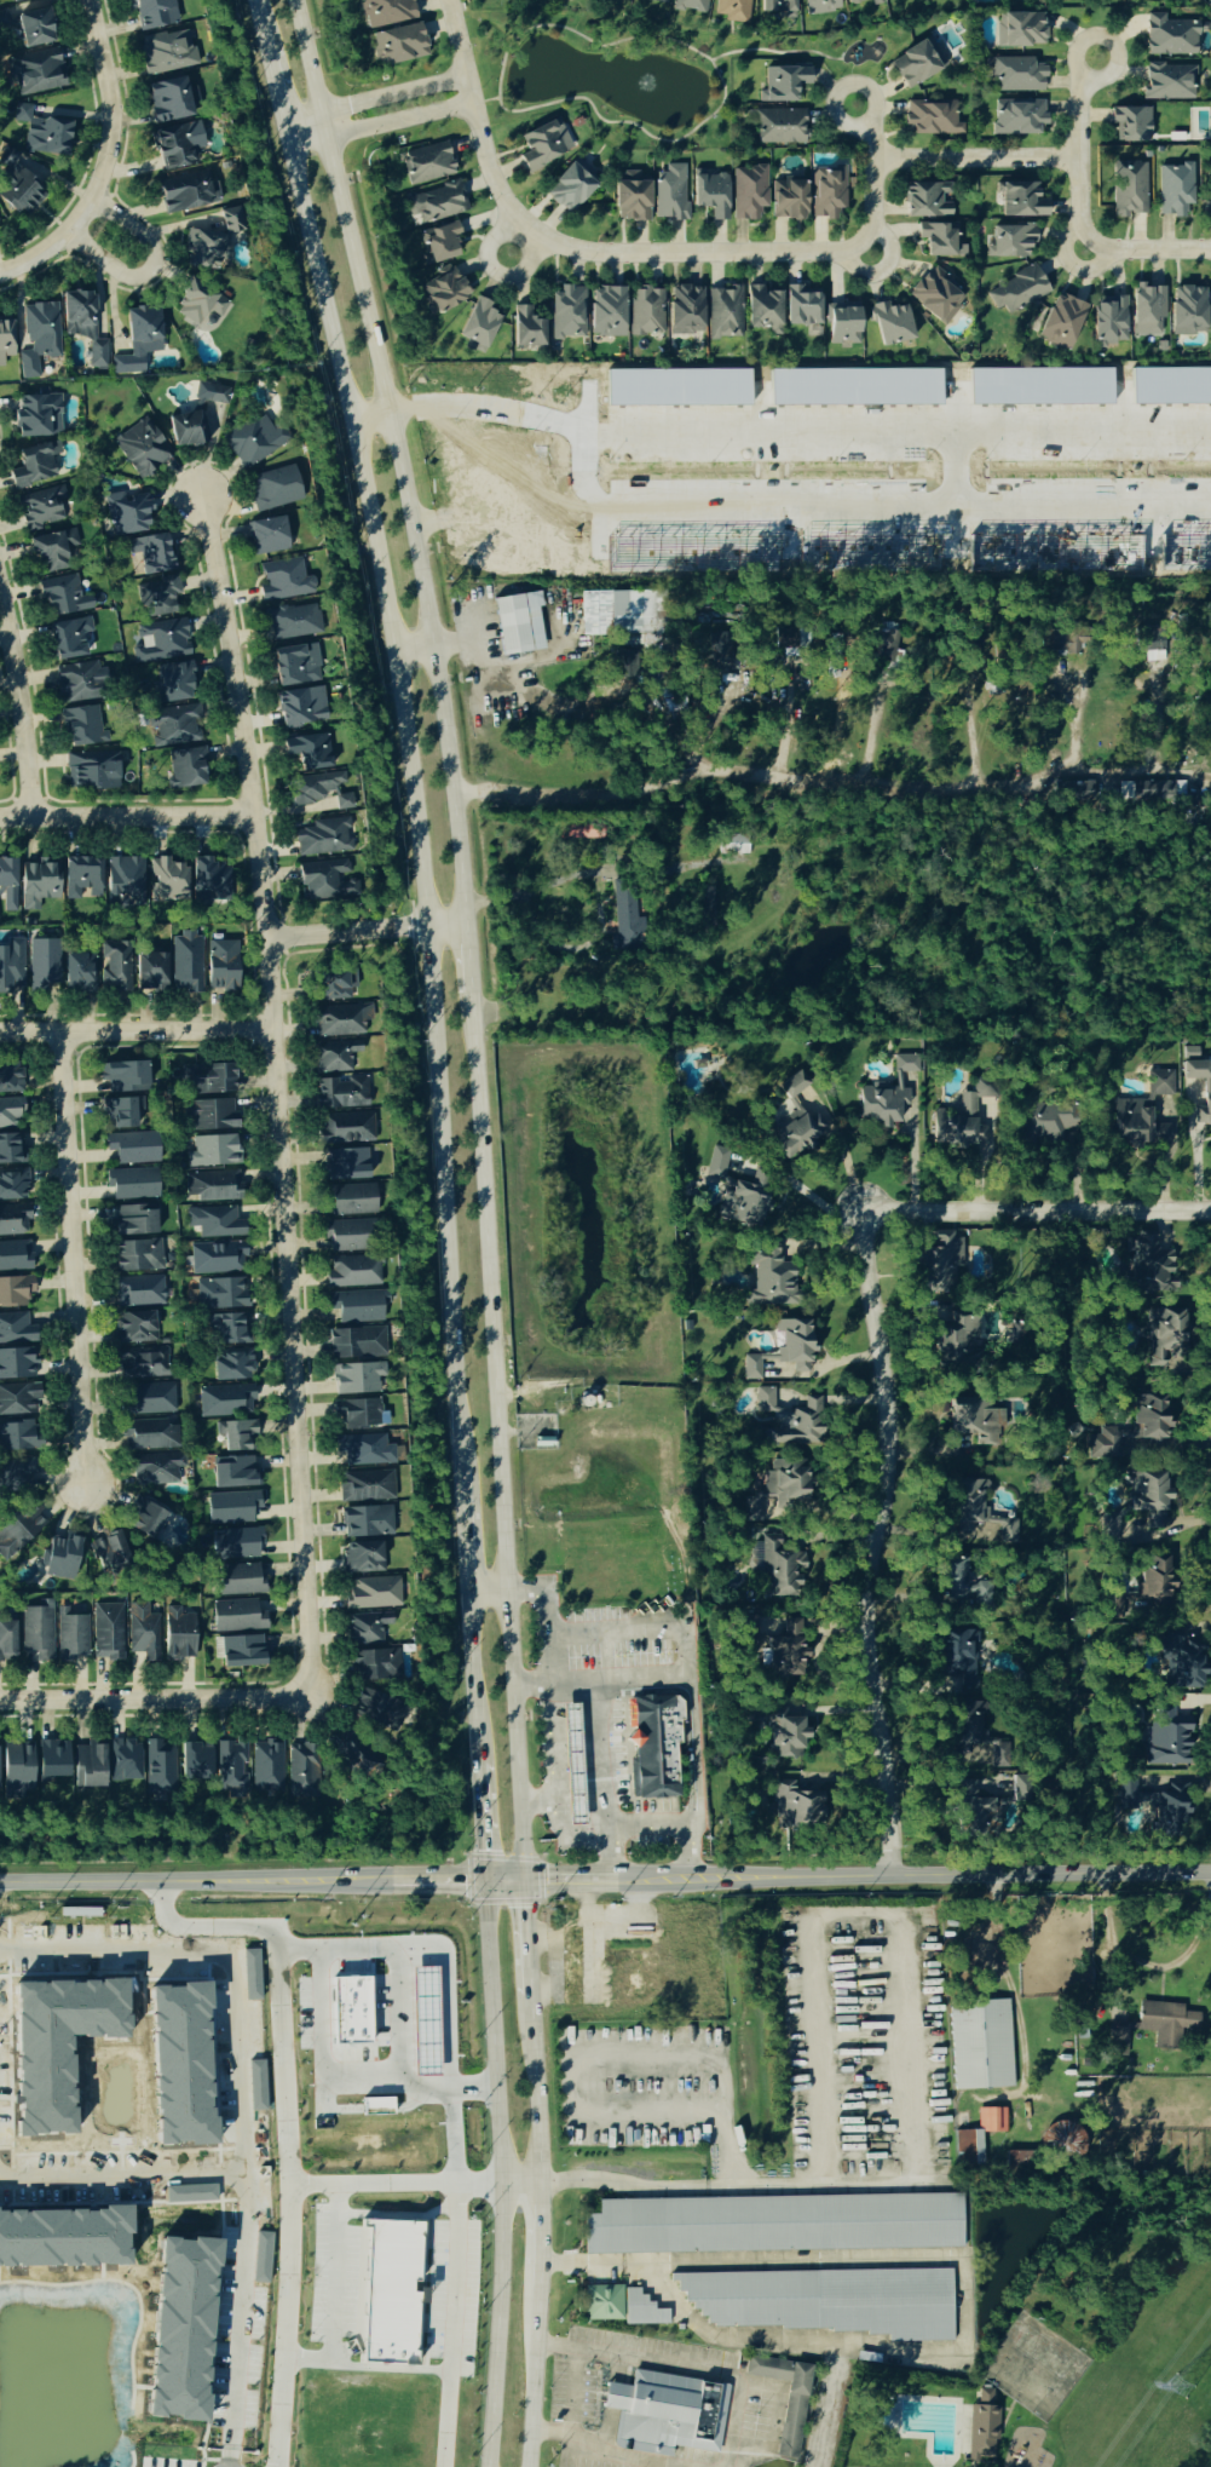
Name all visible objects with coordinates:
building: (16, 0)
building: (657, 0)
building: (864, 2)
building: (1209, 4)
building: (691, 6)
building: (820, 6)
building: (777, 8)
building: (733, 11)
building: (386, 12)
building: (154, 13)
building: (4, 21)
building: (34, 29)
building: (1020, 30)
building: (1171, 36)
road: (586, 38)
building: (399, 46)
building: (167, 52)
road: (777, 52)
building: (918, 63)
park: (644, 68)
building: (38, 73)
building: (1017, 75)
building: (1170, 82)
building: (783, 84)
road: (373, 97)
road: (484, 98)
building: (168, 102)
building: (23, 115)
building: (1020, 117)
building: (933, 119)
road: (475, 122)
road: (630, 122)
road: (379, 123)
building: (1131, 125)
building: (780, 127)
building: (46, 138)
building: (178, 145)
building: (544, 145)
road: (1077, 153)
road: (974, 156)
road: (108, 160)
building: (428, 163)
road: (871, 178)
building: (17, 186)
building: (572, 188)
building: (1210, 188)
building: (1129, 189)
building: (1175, 190)
building: (188, 191)
building: (827, 192)
building: (671, 194)
building: (711, 194)
building: (749, 194)
building: (630, 199)
building: (789, 200)
building: (928, 201)
building: (1021, 201)
building: (436, 205)
building: (231, 222)
building: (941, 241)
building: (1010, 242)
building: (439, 245)
building: (204, 249)
road: (1144, 251)
road: (696, 255)
road: (142, 266)
road: (496, 270)
building: (1017, 291)
building: (445, 292)
building: (936, 295)
building: (200, 305)
building: (802, 307)
building: (762, 309)
building: (686, 311)
building: (1188, 311)
building: (607, 312)
building: (647, 312)
building: (1148, 312)
building: (569, 314)
building: (725, 314)
building: (1109, 321)
building: (843, 323)
building: (1061, 323)
building: (82, 324)
building: (479, 324)
building: (892, 324)
building: (527, 329)
building: (40, 338)
building: (6, 341)
building: (138, 341)
building: (212, 393)
road: (466, 412)
building: (38, 416)
building: (188, 429)
road: (899, 437)
building: (253, 441)
building: (636, 442)
building: (142, 448)
road: (393, 458)
building: (35, 464)
crop: (815, 466)
road: (955, 473)
building: (275, 489)
building: (42, 507)
road: (865, 508)
building: (127, 513)
road: (460, 525)
building: (269, 536)
building: (586, 545)
building: (51, 553)
building: (151, 553)
building: (284, 580)
building: (63, 596)
building: (157, 598)
building: (616, 613)
building: (293, 622)
building: (519, 623)
building: (71, 638)
building: (160, 642)
building: (296, 665)
building: (80, 683)
building: (172, 683)
road: (760, 695)
road: (541, 696)
road: (22, 703)
building: (301, 707)
road: (1155, 718)
road: (709, 720)
road: (785, 721)
road: (1074, 721)
building: (174, 726)
building: (82, 728)
road: (871, 735)
road: (406, 736)
road: (971, 740)
building: (307, 751)
building: (186, 769)
building: (92, 771)
road: (832, 778)
building: (319, 792)
road: (125, 817)
building: (581, 830)
building: (324, 838)
building: (733, 845)
building: (81, 878)
building: (167, 880)
building: (209, 880)
building: (324, 881)
building: (125, 882)
building: (7, 885)
building: (38, 885)
road: (527, 890)
building: (625, 920)
road: (365, 928)
road: (469, 959)
building: (44, 962)
building: (185, 962)
building: (220, 965)
building: (12, 967)
building: (115, 967)
building: (150, 971)
building: (77, 972)
building: (338, 985)
building: (342, 1020)
road: (134, 1027)
building: (335, 1057)
building: (906, 1063)
building: (1195, 1070)
building: (125, 1077)
building: (10, 1081)
road: (273, 1093)
building: (341, 1094)
building: (881, 1104)
building: (120, 1112)
building: (8, 1114)
building: (1203, 1114)
building: (1144, 1115)
building: (211, 1116)
building: (962, 1121)
building: (792, 1126)
building: (346, 1128)
building: (133, 1148)
building: (7, 1150)
building: (212, 1151)
building: (348, 1163)
building: (716, 1163)
building: (132, 1184)
building: (13, 1185)
building: (212, 1188)
building: (351, 1200)
building: (745, 1200)
building: (13, 1220)
building: (133, 1221)
building: (215, 1223)
building: (351, 1236)
road: (68, 1255)
building: (15, 1256)
building: (138, 1256)
building: (218, 1259)
building: (1149, 1263)
building: (940, 1264)
building: (353, 1272)
building: (771, 1277)
building: (15, 1292)
building: (142, 1292)
building: (221, 1294)
building: (357, 1306)
building: (134, 1329)
building: (16, 1330)
building: (227, 1330)
building: (1164, 1335)
building: (956, 1338)
building: (357, 1342)
building: (795, 1346)
road: (883, 1363)
building: (18, 1364)
building: (143, 1364)
building: (231, 1367)
building: (357, 1379)
building: (150, 1399)
building: (18, 1401)
building: (225, 1402)
building: (358, 1414)
building: (791, 1417)
building: (978, 1426)
building: (1134, 1430)
building: (152, 1434)
building: (235, 1434)
road: (495, 1437)
building: (18, 1438)
building: (365, 1450)
building: (157, 1468)
building: (232, 1473)
building: (365, 1488)
building: (774, 1490)
building: (1148, 1499)
building: (970, 1506)
building: (231, 1507)
building: (145, 1519)
building: (367, 1523)
building: (1109, 1530)
building: (17, 1531)
building: (1008, 1531)
road: (461, 1537)
building: (238, 1541)
building: (109, 1553)
building: (60, 1558)
building: (362, 1558)
building: (778, 1565)
building: (240, 1580)
road: (483, 1586)
building: (961, 1588)
building: (373, 1593)
building: (1111, 1604)
building: (238, 1614)
building: (367, 1628)
building: (38, 1632)
building: (108, 1632)
building: (179, 1632)
building: (143, 1634)
building: (71, 1639)
building: (7, 1643)
building: (242, 1652)
building: (783, 1655)
building: (958, 1656)
building: (1183, 1664)
building: (376, 1666)
road: (680, 1667)
road: (469, 1677)
road: (154, 1695)
building: (379, 1712)
road: (553, 1732)
building: (786, 1736)
building: (1167, 1742)
building: (976, 1743)
building: (654, 1748)
road: (697, 1748)
road: (599, 1756)
building: (52, 1760)
building: (126, 1761)
building: (196, 1761)
building: (573, 1762)
building: (90, 1765)
building: (17, 1769)
building: (231, 1769)
building: (267, 1770)
building: (158, 1771)
building: (301, 1772)
building: (1017, 1792)
road: (536, 1801)
building: (1151, 1801)
building: (796, 1808)
building: (975, 1816)
road: (479, 1822)
road: (644, 1827)
road: (685, 1852)
road: (888, 1863)
road: (948, 1875)
traffic signals: (483, 1879)
traffic signals: (519, 1879)
road: (602, 1879)
road: (259, 1880)
road: (853, 1911)
road: (616, 1917)
road: (541, 1927)
road: (523, 1934)
road: (558, 1959)
road: (1154, 1963)
building: (252, 1974)
building: (609, 1977)
road: (448, 1986)
building: (353, 2011)
building: (428, 2023)
gas station: (428, 2023)
building: (1166, 2023)
building: (1118, 2038)
building: (981, 2043)
road: (617, 2052)
road: (281, 2064)
road: (241, 2074)
road: (341, 2083)
building: (258, 2084)
road: (531, 2089)
building: (979, 2137)
building: (1062, 2138)
building: (1019, 2160)
road: (496, 2173)
road: (731, 2189)
building: (191, 2193)
building: (775, 2224)
road: (535, 2227)
building: (261, 2256)
road: (962, 2270)
road: (455, 2287)
building: (392, 2291)
road: (242, 2298)
road: (335, 2298)
building: (827, 2300)
building: (605, 2304)
building: (641, 2308)
road: (284, 2325)
road: (527, 2368)
road: (702, 2370)
road: (576, 2390)
building: (786, 2399)
power tower: (1164, 2409)
building: (982, 2428)
building: (964, 2436)
road: (623, 2454)

